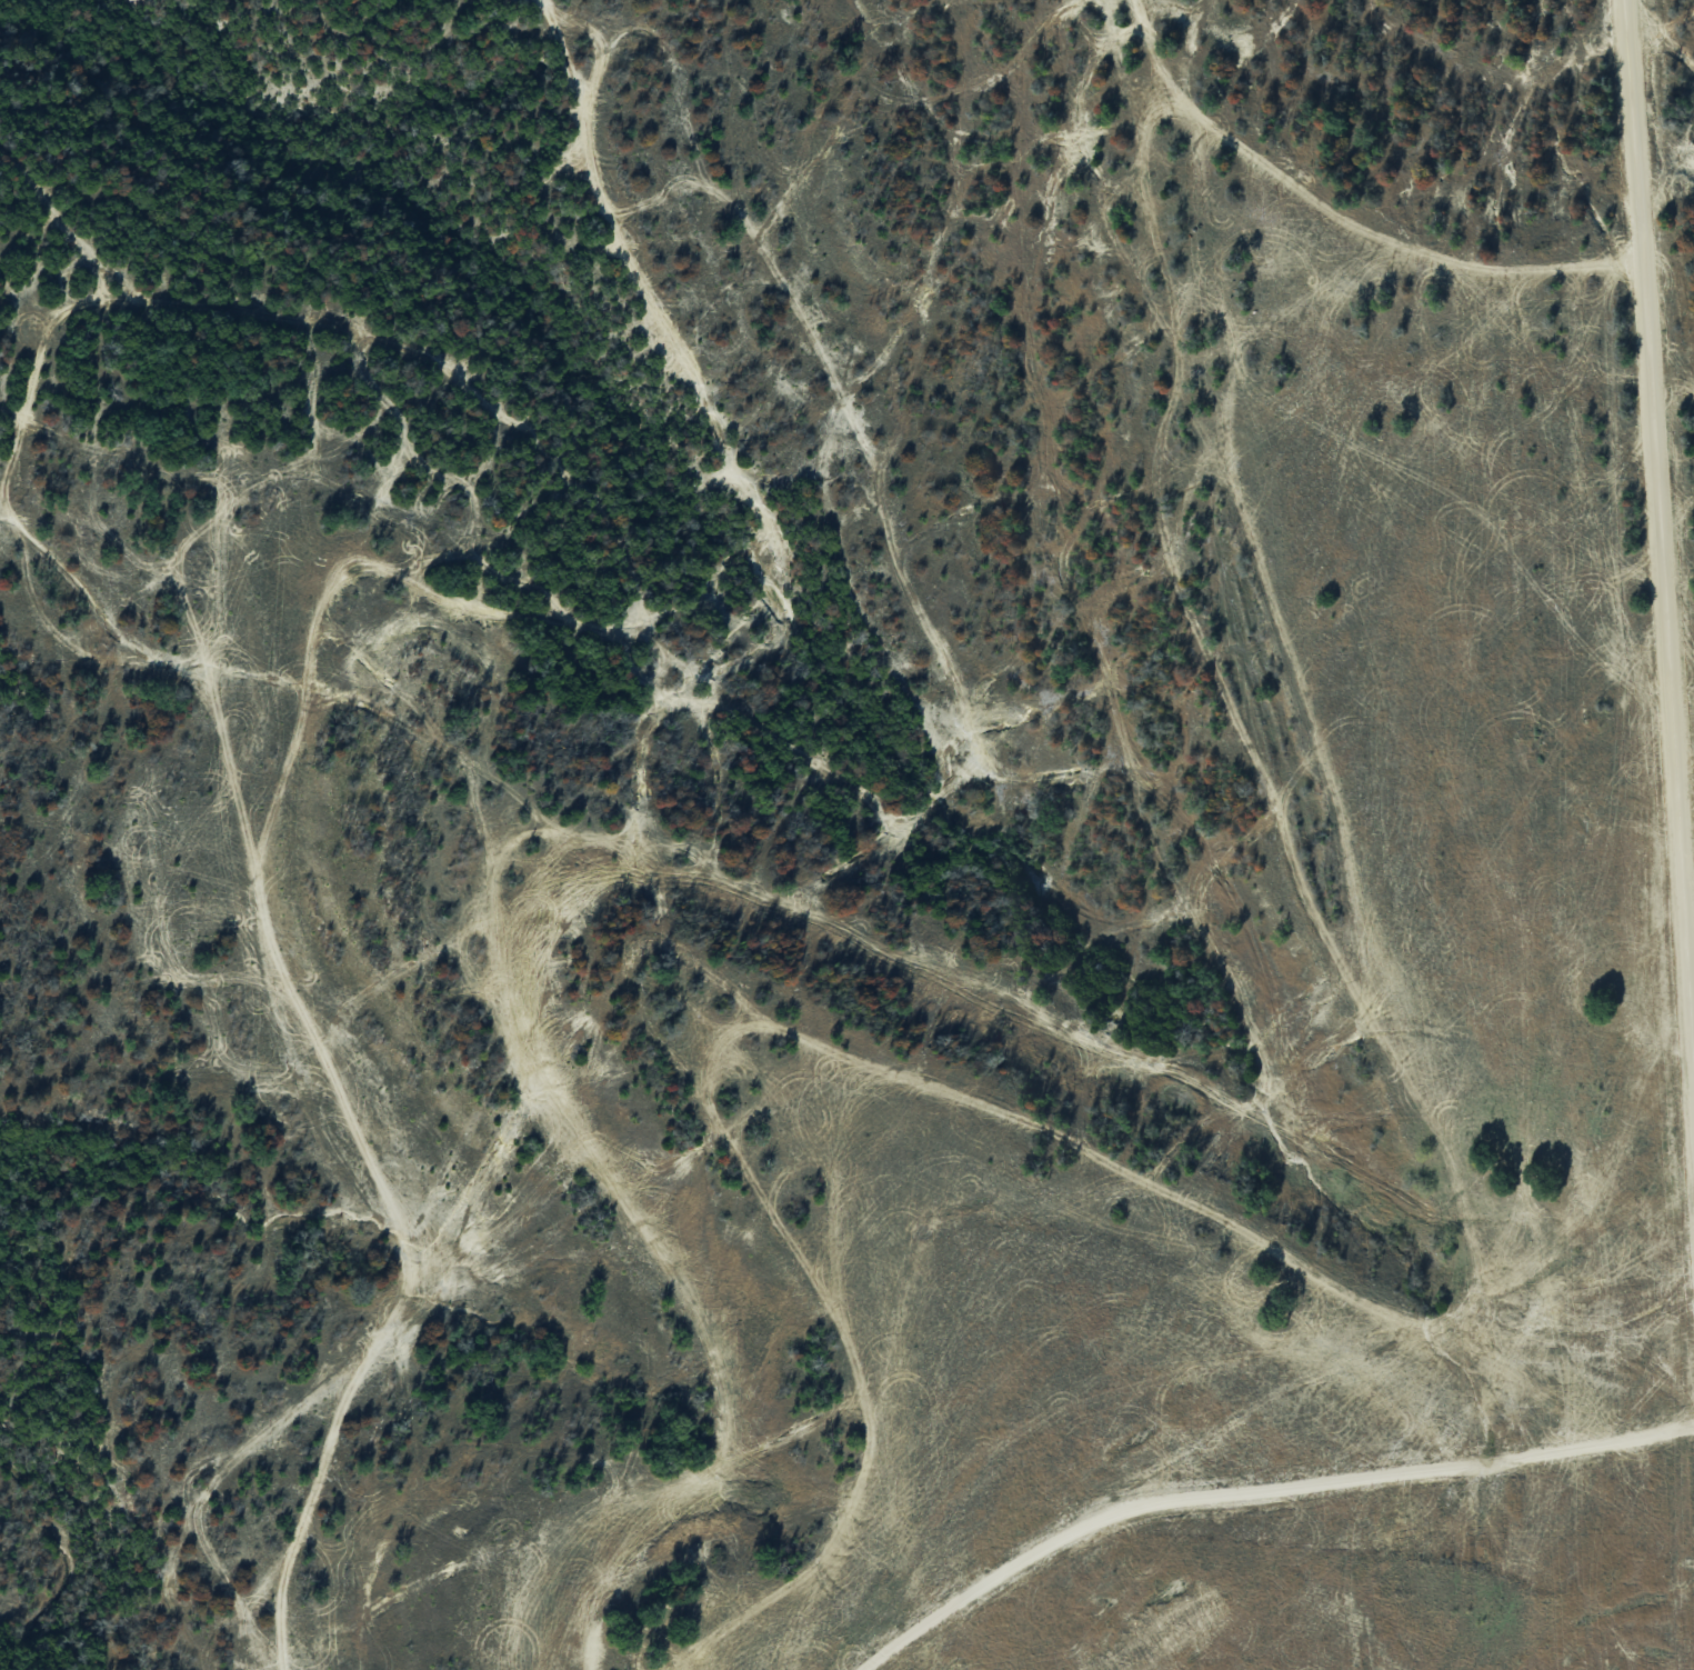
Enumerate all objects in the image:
road: (1656, 490)

